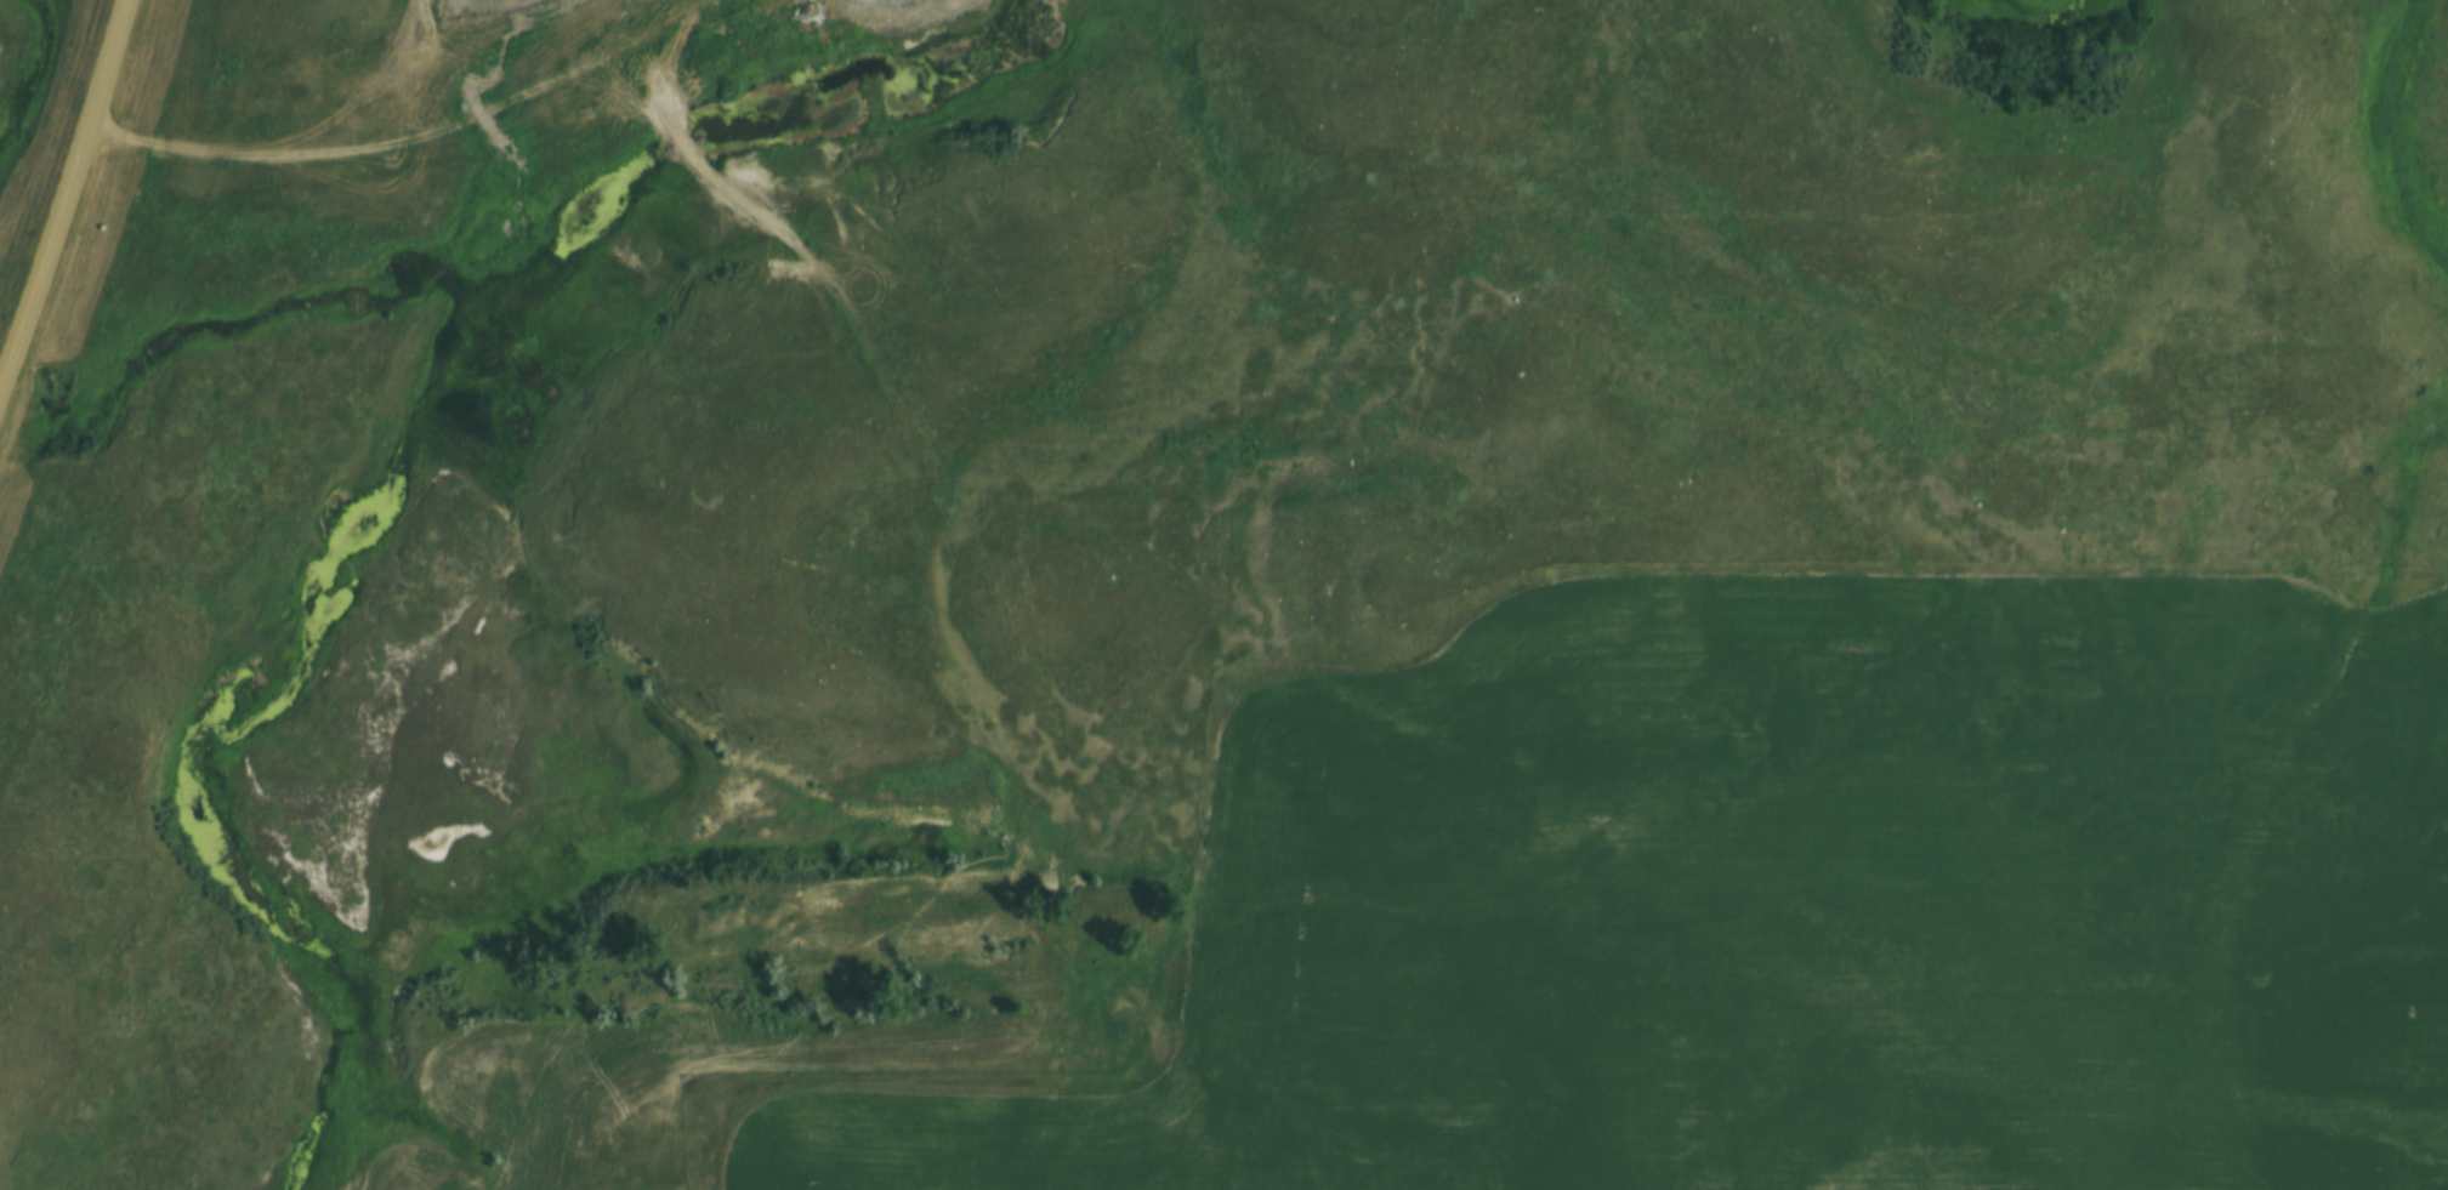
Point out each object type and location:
road: (67, 198)

